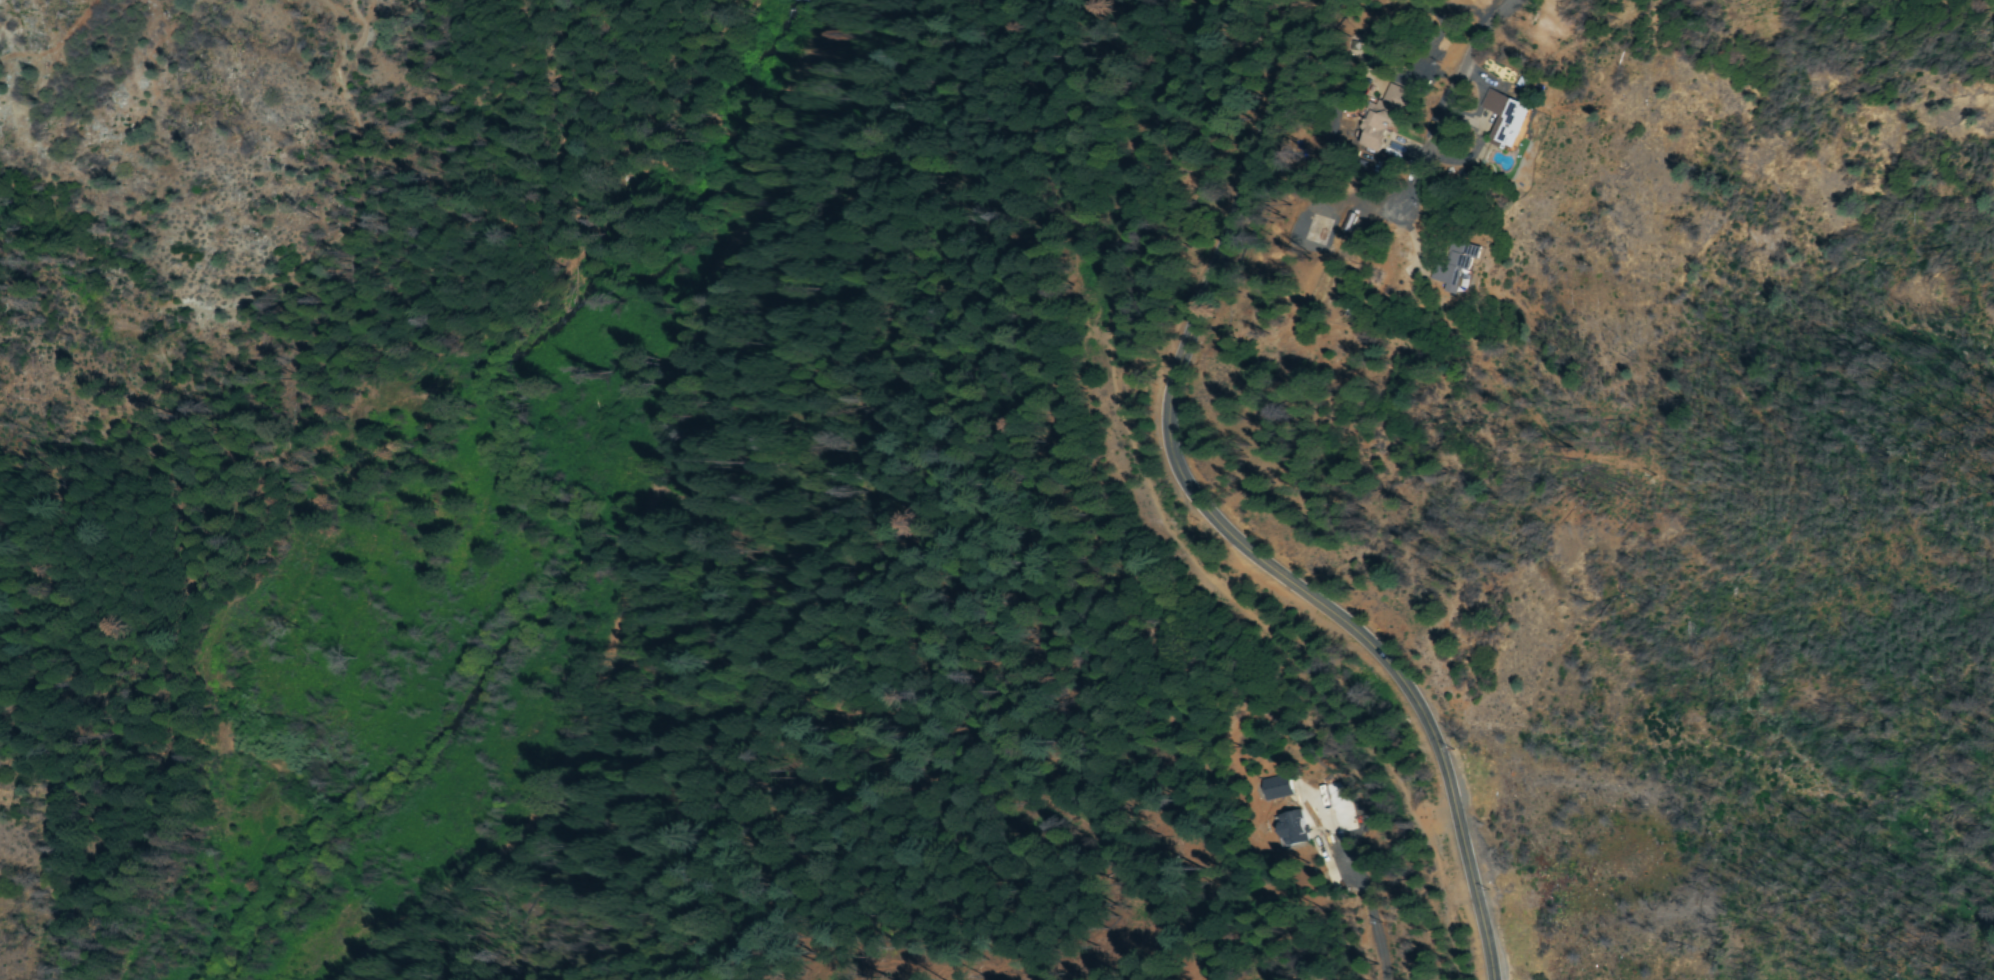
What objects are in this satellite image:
road: (159, 101)
road: (1492, 103)
building: (1512, 118)
building: (1388, 119)
road: (1218, 517)
road: (1172, 523)
building: (1280, 789)

